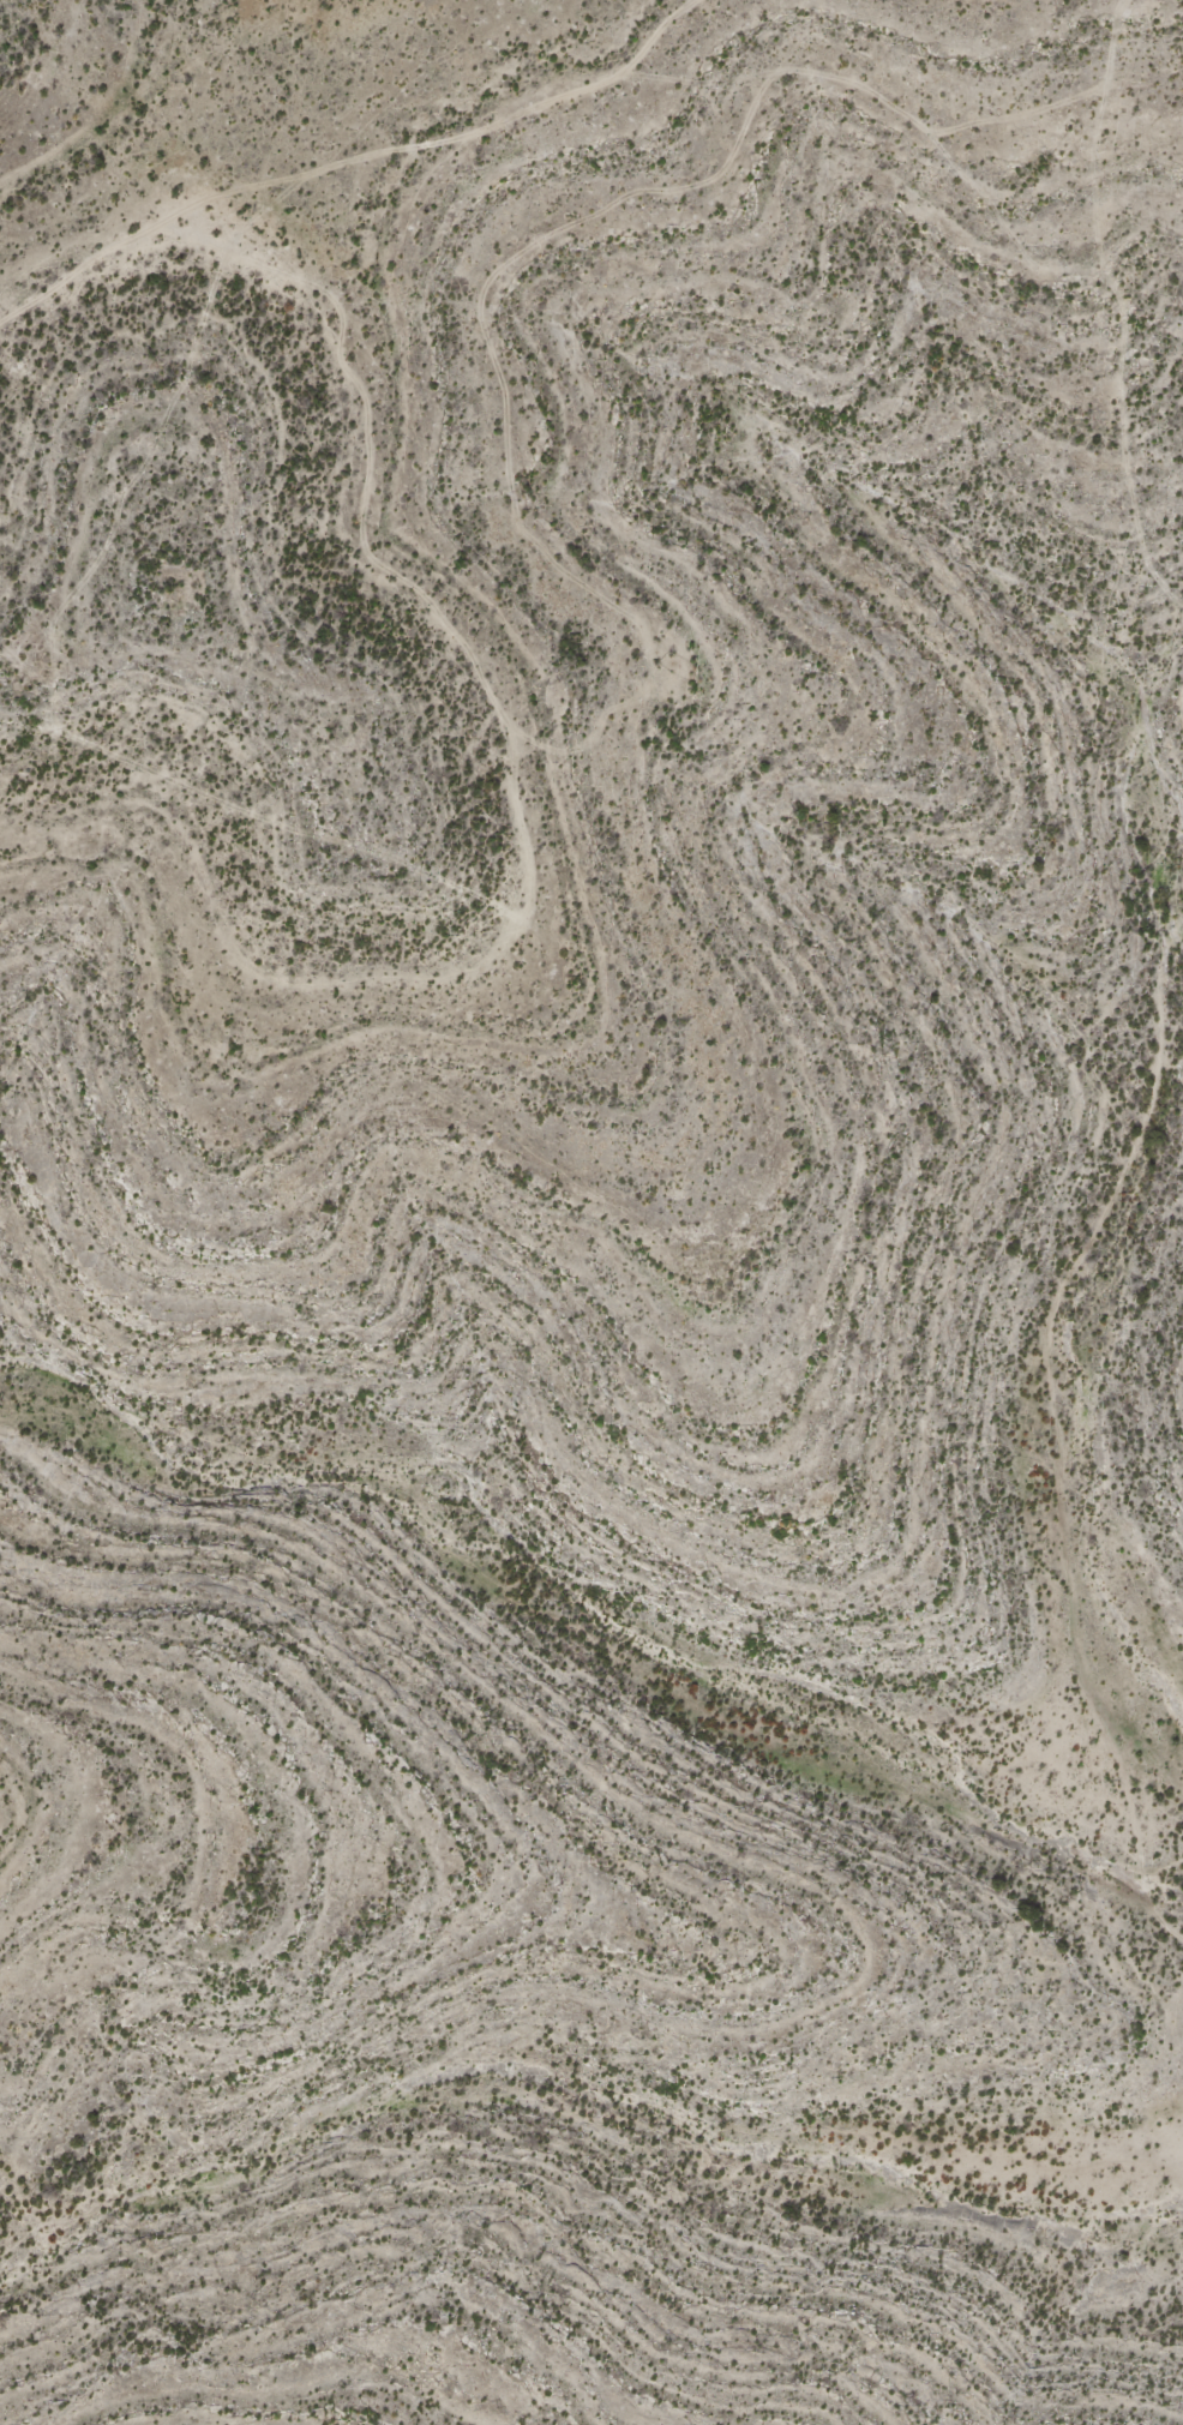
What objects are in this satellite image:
road: (578, 101)
road: (1124, 304)
road: (1062, 1434)

